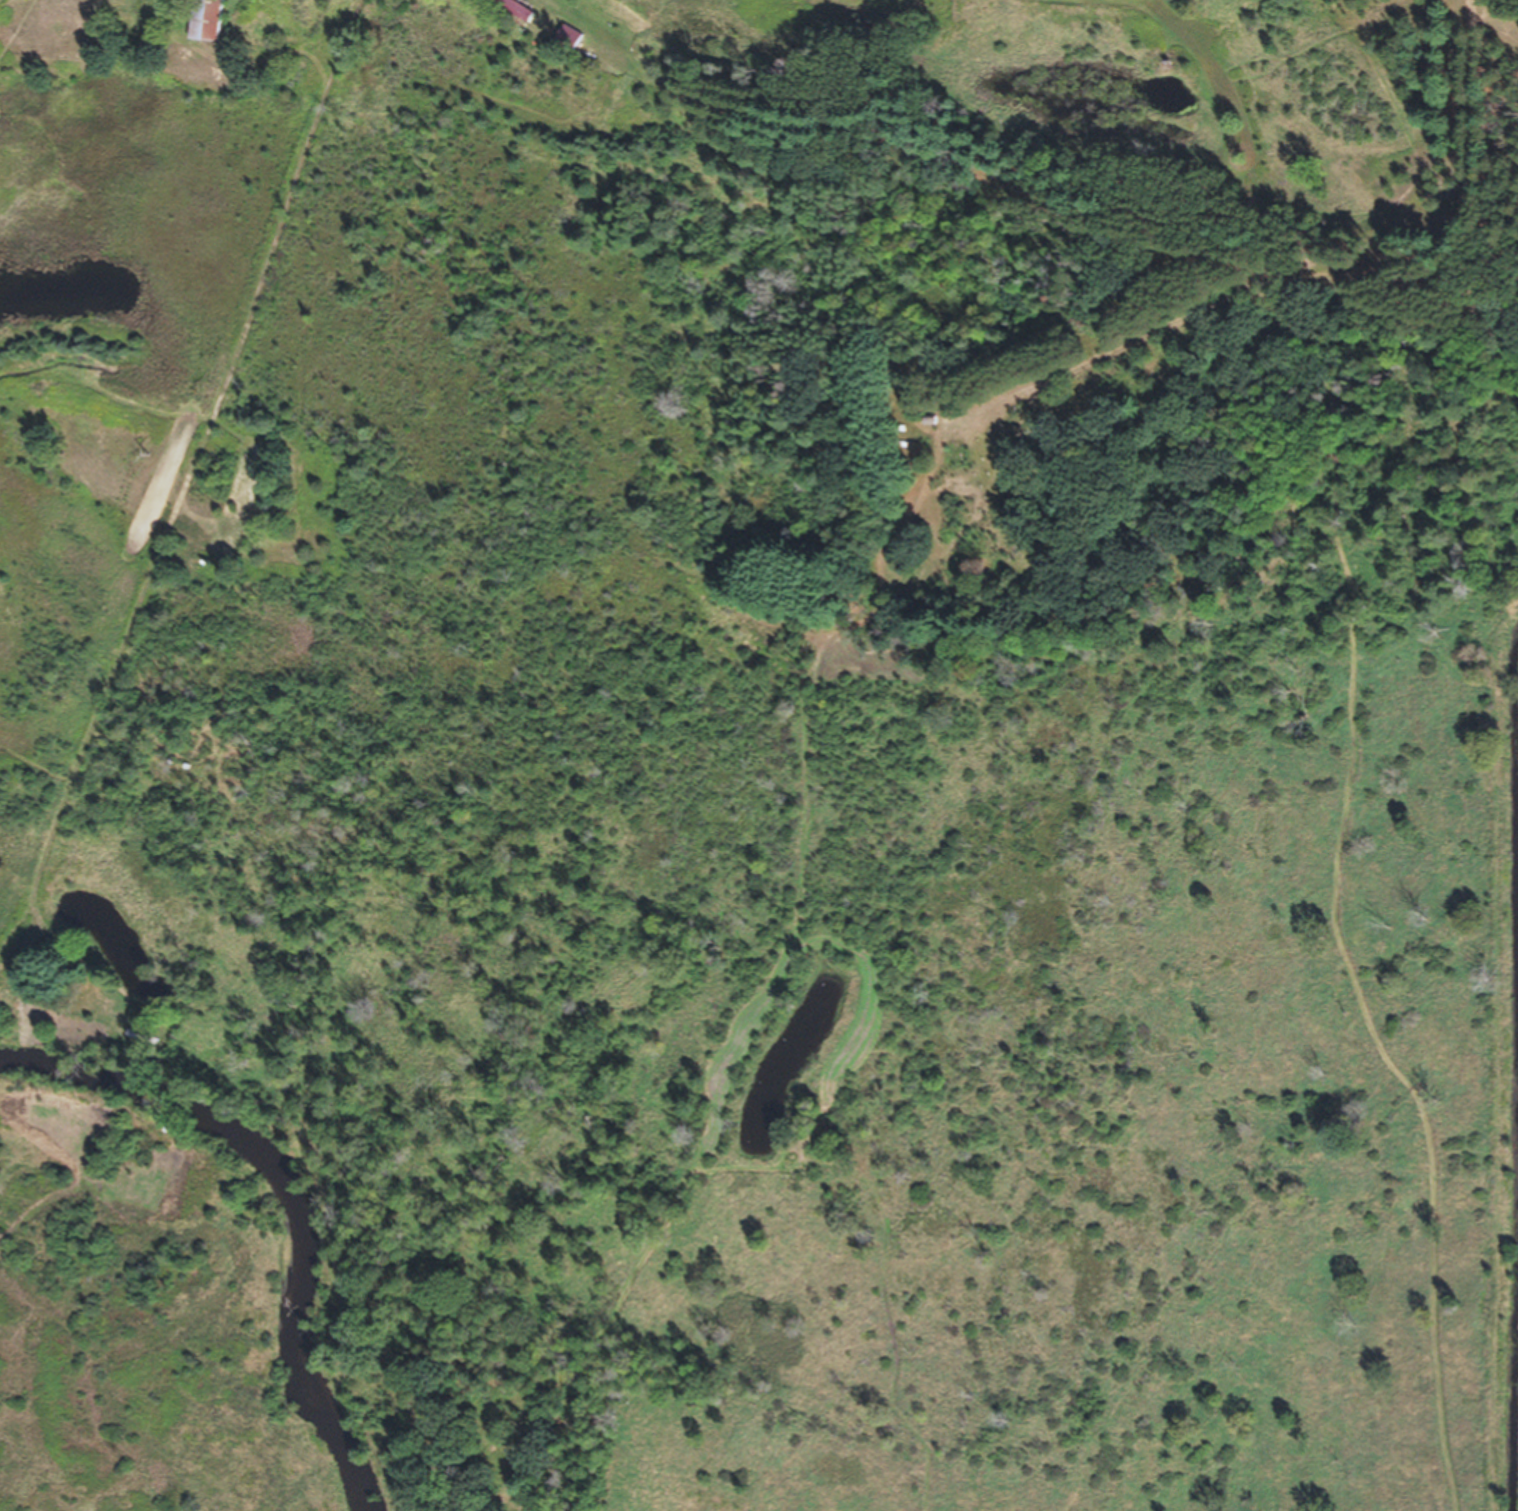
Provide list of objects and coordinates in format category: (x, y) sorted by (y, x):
building: (209, 24)
building: (569, 47)
river: (296, 1194)

